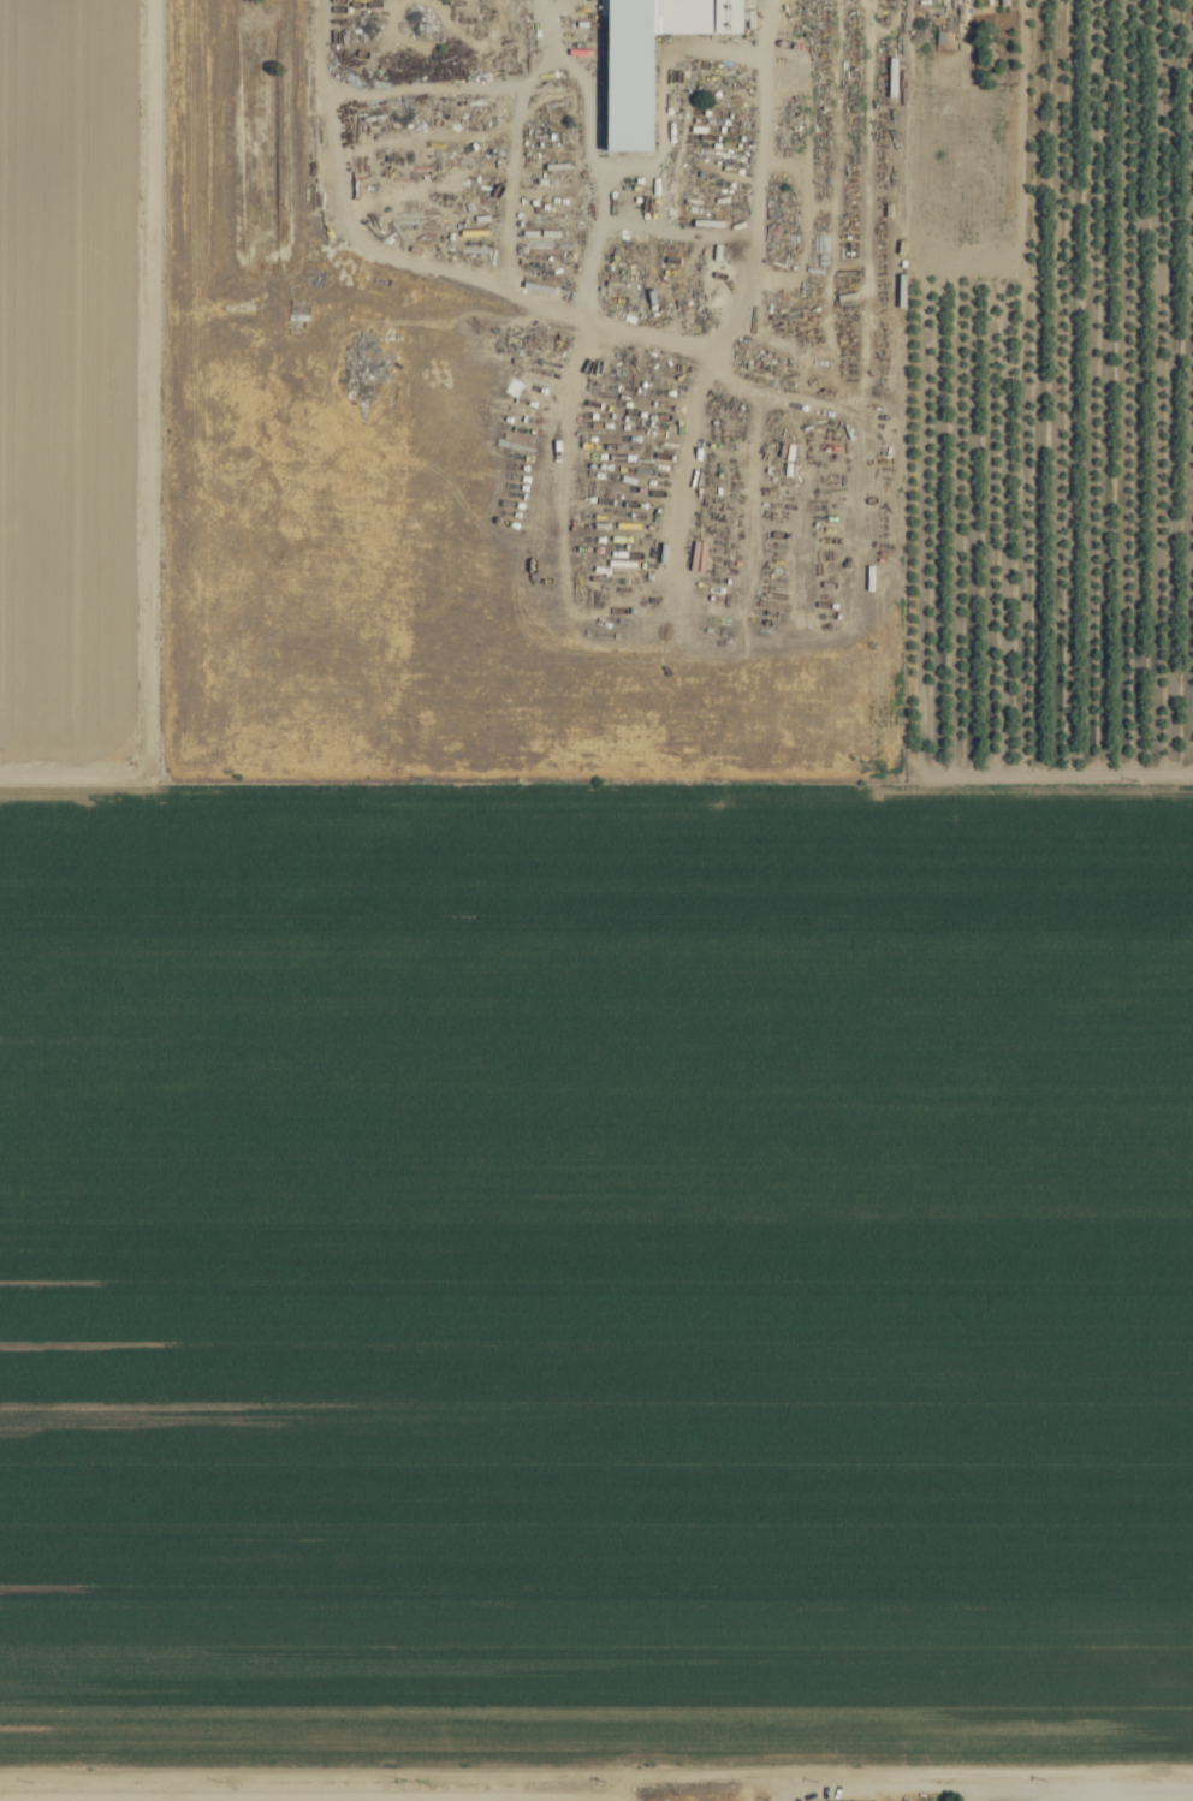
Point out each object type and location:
building: (730, 16)
building: (901, 150)
building: (901, 202)
road: (1056, 784)
road: (652, 1763)

